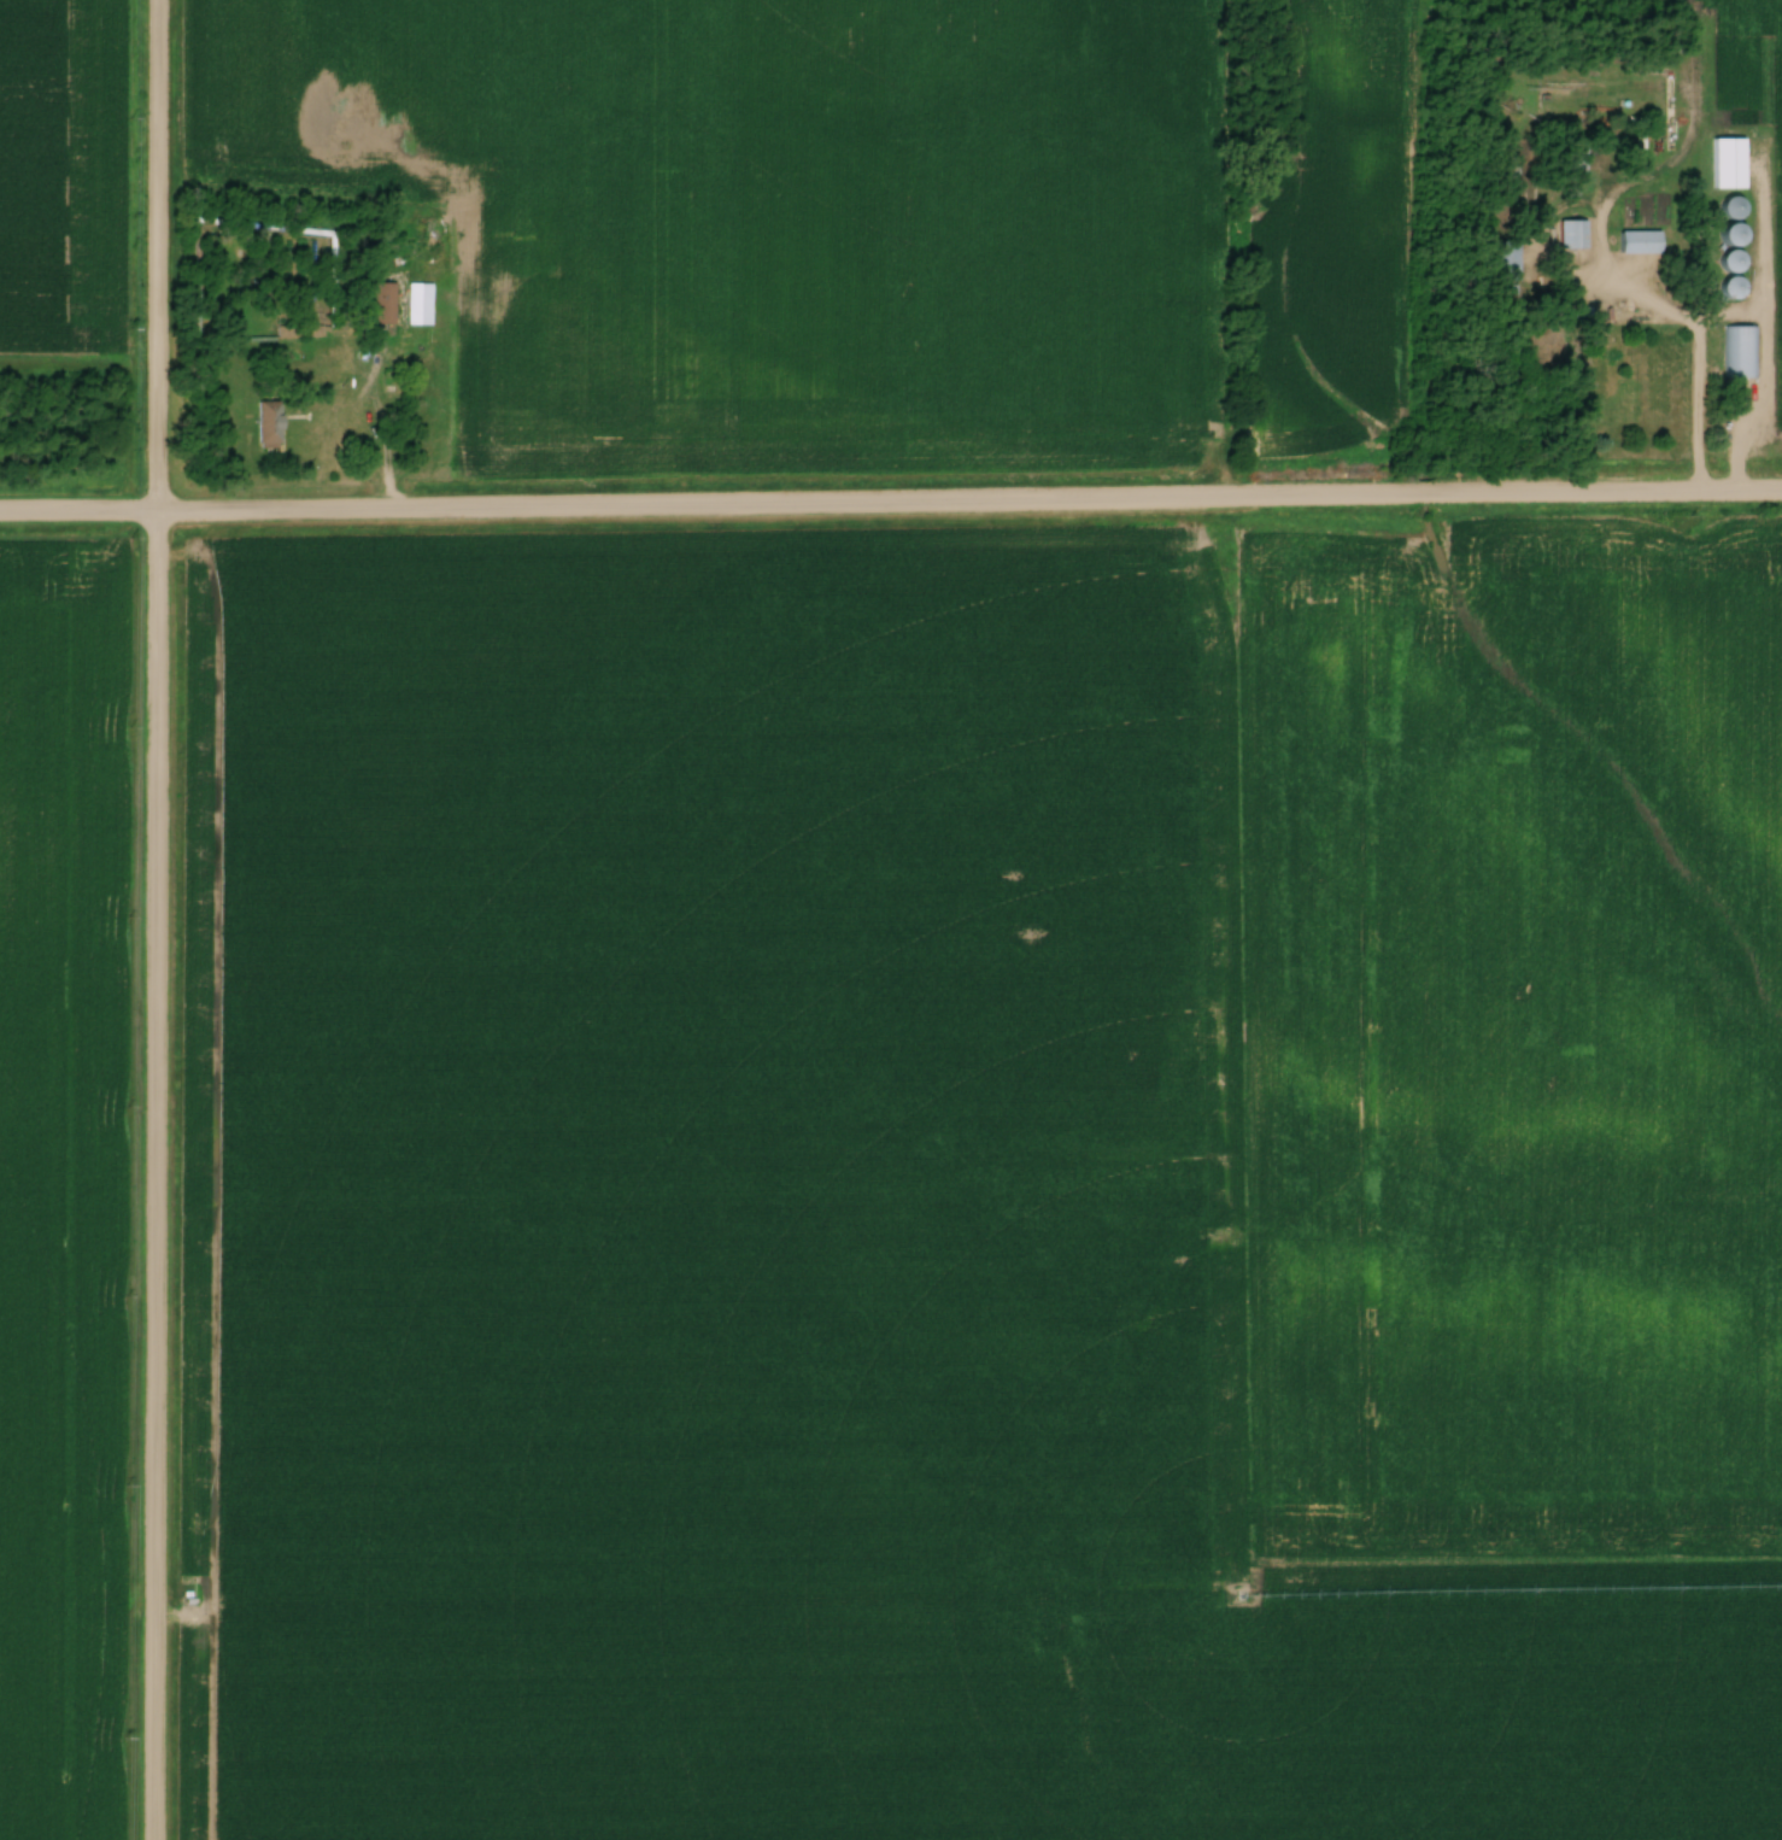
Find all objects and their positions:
building: (1728, 163)
building: (1731, 207)
building: (1572, 233)
building: (1731, 234)
building: (1639, 241)
building: (1510, 260)
building: (1731, 260)
building: (1730, 288)
building: (382, 303)
building: (1741, 352)
road: (1517, 398)
building: (268, 423)
road: (345, 430)
road: (891, 508)
road: (152, 919)

